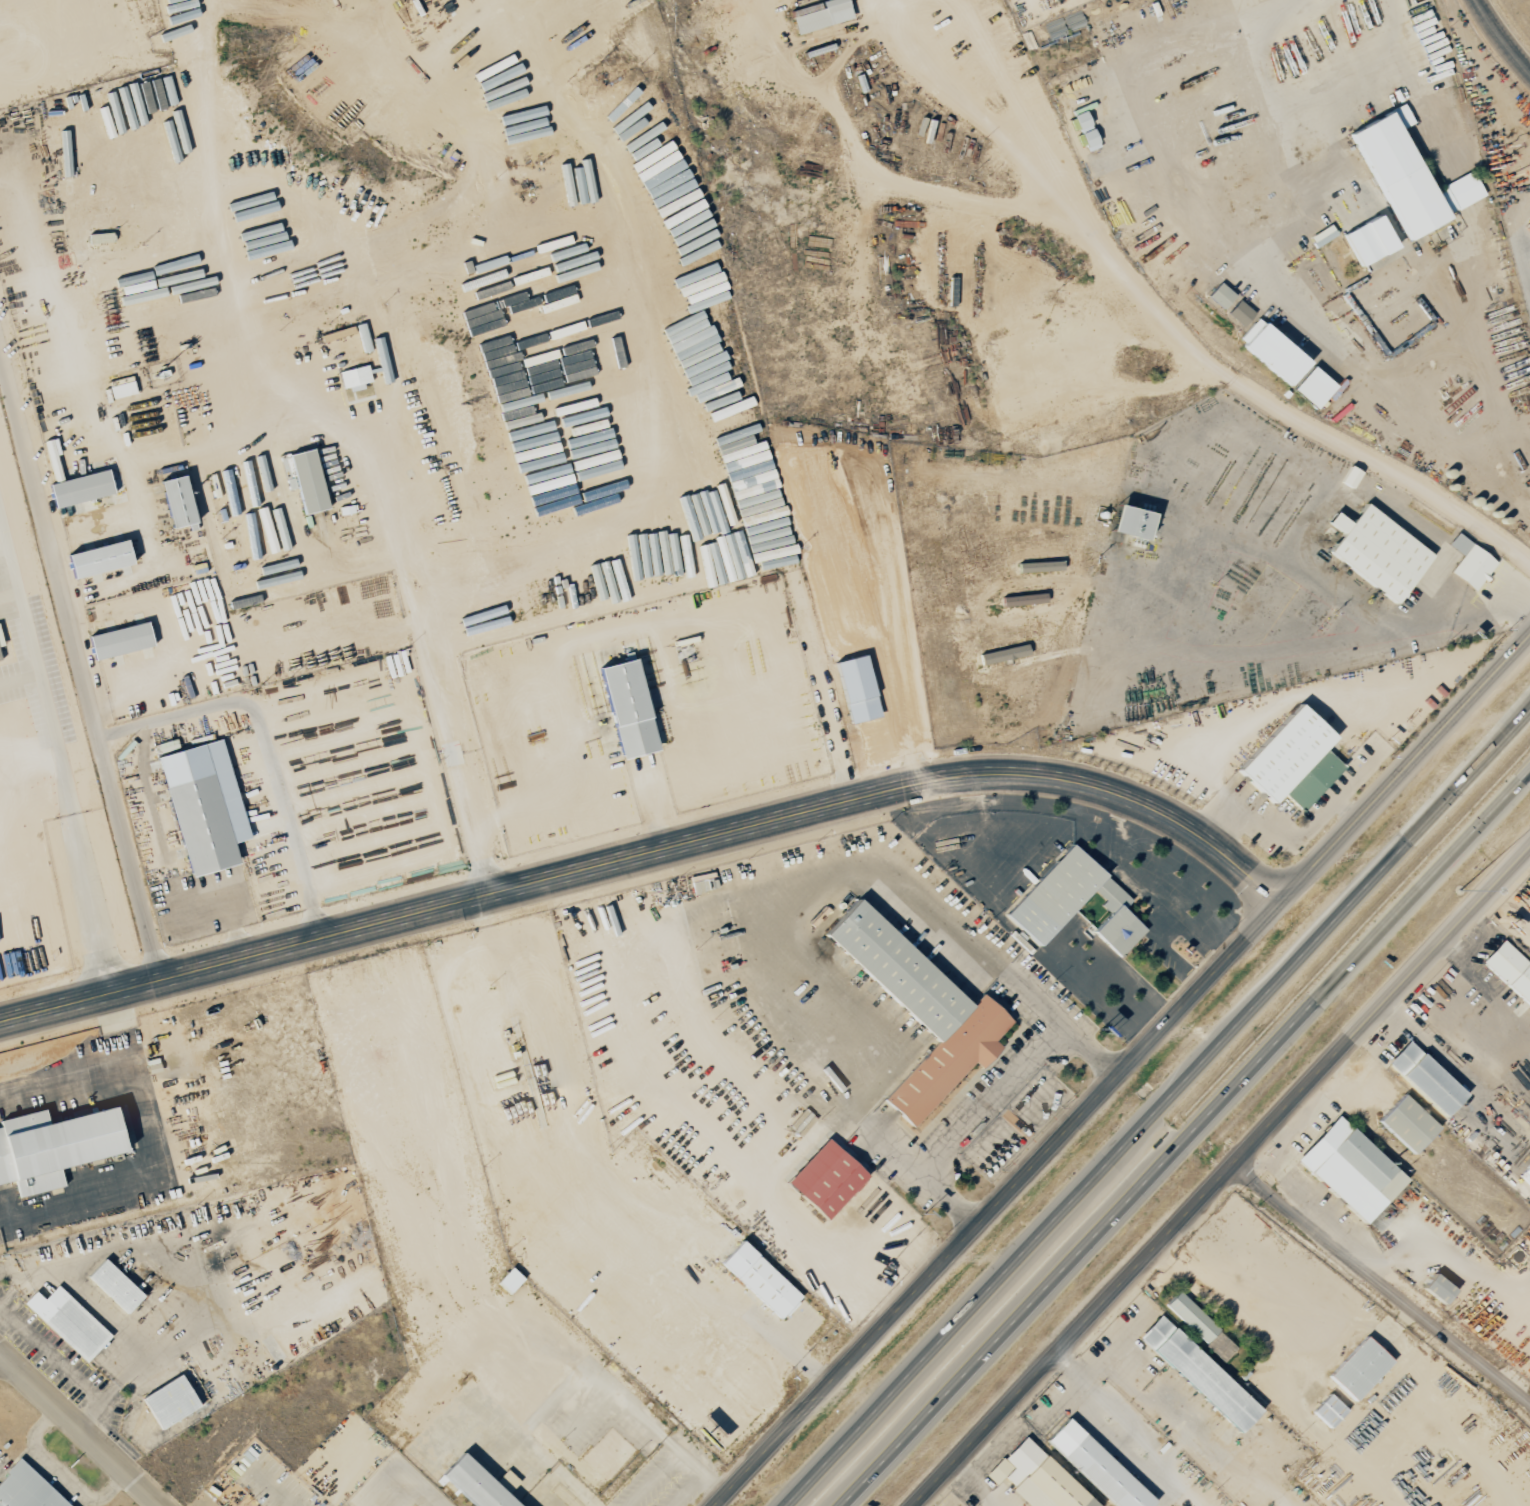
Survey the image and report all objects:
building: (819, 15)
road: (1507, 32)
road: (1013, 104)
road: (971, 116)
building: (1085, 128)
building: (1408, 176)
building: (1322, 236)
building: (1369, 240)
building: (1220, 296)
building: (1240, 313)
building: (1272, 352)
building: (354, 378)
building: (121, 387)
building: (1312, 387)
road: (1288, 411)
building: (738, 441)
road: (127, 444)
building: (1350, 477)
building: (304, 480)
building: (80, 489)
building: (176, 503)
building: (1131, 523)
building: (1377, 552)
road: (9, 557)
building: (97, 560)
road: (403, 560)
building: (1470, 563)
road: (9, 594)
road: (1332, 594)
road: (1500, 604)
building: (119, 641)
building: (0, 642)
building: (1003, 654)
road: (77, 665)
building: (856, 689)
building: (627, 710)
road: (1524, 710)
road: (267, 746)
building: (1285, 753)
building: (1313, 780)
road: (66, 793)
building: (203, 807)
road: (649, 859)
building: (1074, 902)
building: (1510, 970)
building: (919, 1010)
road: (1121, 1069)
building: (1425, 1078)
road: (987, 1101)
road: (1155, 1106)
building: (1407, 1123)
road: (143, 1134)
road: (1183, 1135)
building: (52, 1147)
building: (1351, 1170)
building: (825, 1179)
road: (1225, 1179)
road: (1446, 1253)
building: (760, 1280)
building: (509, 1281)
road: (1383, 1284)
building: (114, 1285)
building: (1438, 1289)
road: (1526, 1297)
road: (1526, 1305)
building: (67, 1321)
building: (1200, 1325)
building: (1359, 1368)
building: (1199, 1373)
building: (169, 1401)
road: (1110, 1409)
building: (1328, 1410)
road: (81, 1428)
building: (1097, 1466)
building: (1037, 1478)
building: (474, 1484)
road: (976, 1485)
road: (417, 1487)
building: (26, 1489)

